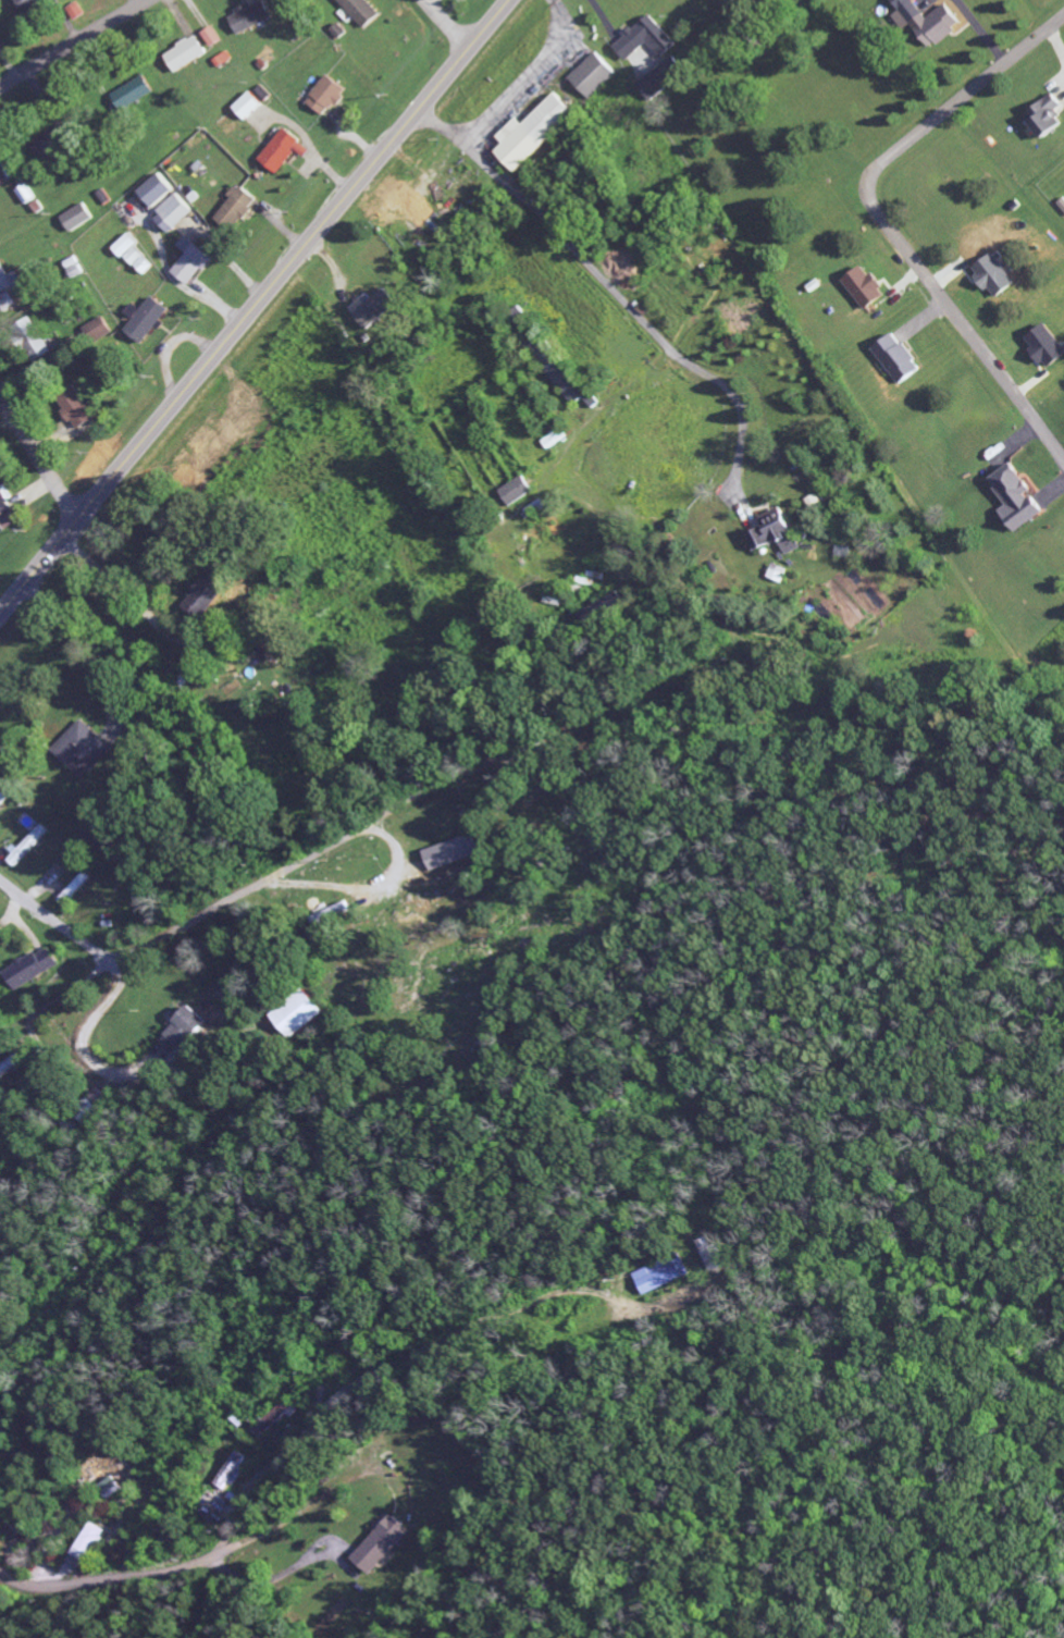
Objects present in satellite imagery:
building: (30, 4)
building: (75, 11)
building: (359, 11)
building: (249, 16)
building: (928, 22)
road: (447, 23)
building: (211, 36)
building: (644, 39)
road: (72, 42)
building: (185, 53)
building: (591, 76)
building: (657, 81)
building: (133, 94)
building: (325, 95)
building: (248, 106)
building: (1044, 116)
building: (531, 132)
building: (49, 143)
building: (282, 151)
building: (1, 184)
building: (156, 190)
building: (26, 194)
building: (235, 209)
building: (173, 213)
building: (77, 218)
building: (134, 255)
building: (191, 261)
building: (993, 275)
building: (8, 279)
building: (864, 287)
road: (253, 306)
building: (374, 309)
building: (145, 319)
building: (97, 330)
building: (33, 338)
building: (1046, 346)
building: (896, 358)
building: (74, 407)
building: (555, 439)
road: (37, 459)
building: (518, 491)
building: (1015, 498)
building: (3, 506)
building: (776, 534)
building: (778, 574)
building: (81, 750)
building: (2, 797)
building: (97, 838)
building: (24, 846)
building: (453, 852)
road: (255, 886)
building: (73, 887)
building: (332, 914)
building: (28, 969)
road: (55, 998)
building: (297, 1013)
building: (183, 1030)
building: (9, 1062)
building: (85, 1107)
building: (715, 1255)
building: (663, 1274)
building: (272, 1418)
building: (231, 1470)
building: (108, 1488)
building: (86, 1542)
building: (378, 1544)
road: (200, 1561)

